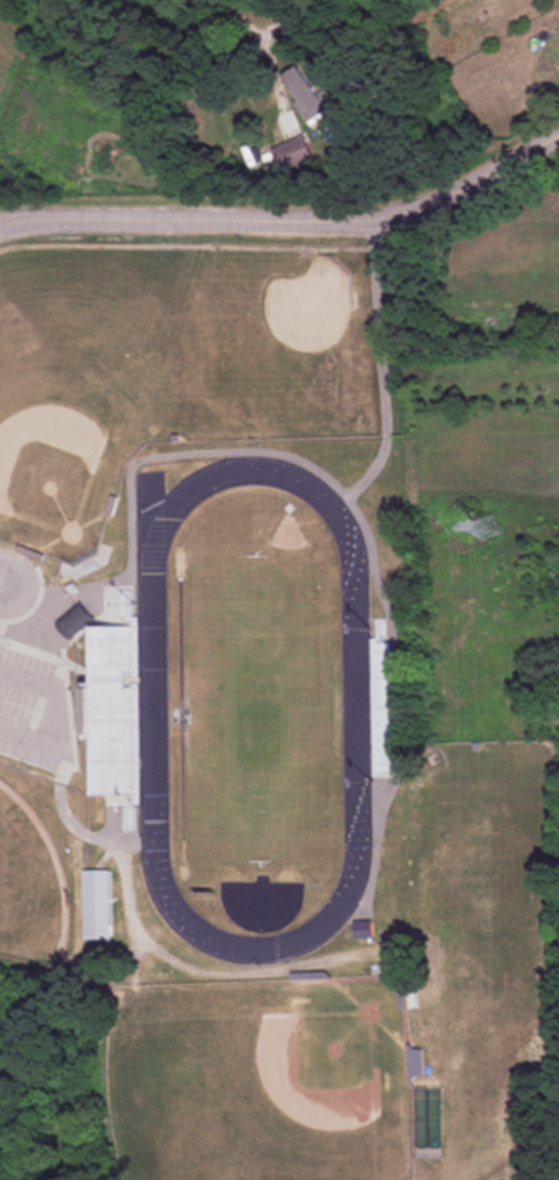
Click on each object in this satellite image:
building: (309, 92)
building: (292, 155)
road: (288, 220)
power tower: (489, 529)
building: (114, 710)
park: (28, 883)
building: (96, 905)
building: (362, 929)
park: (258, 1078)

